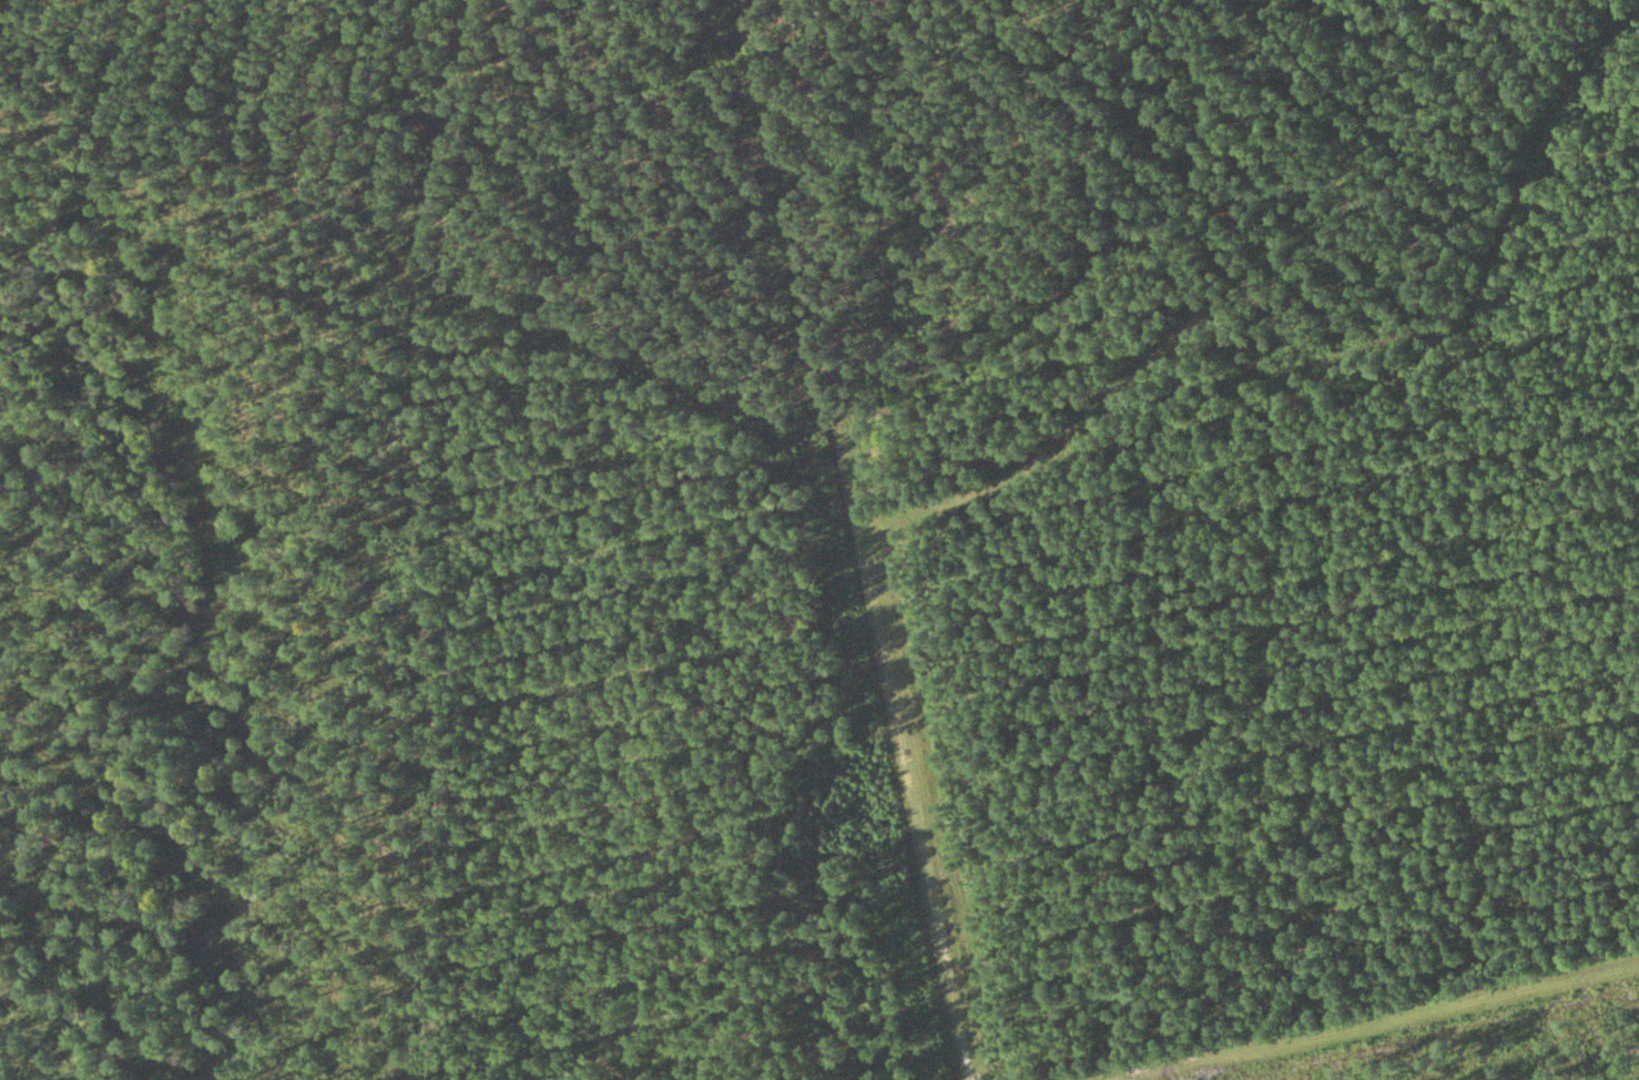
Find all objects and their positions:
road: (1490, 1046)

